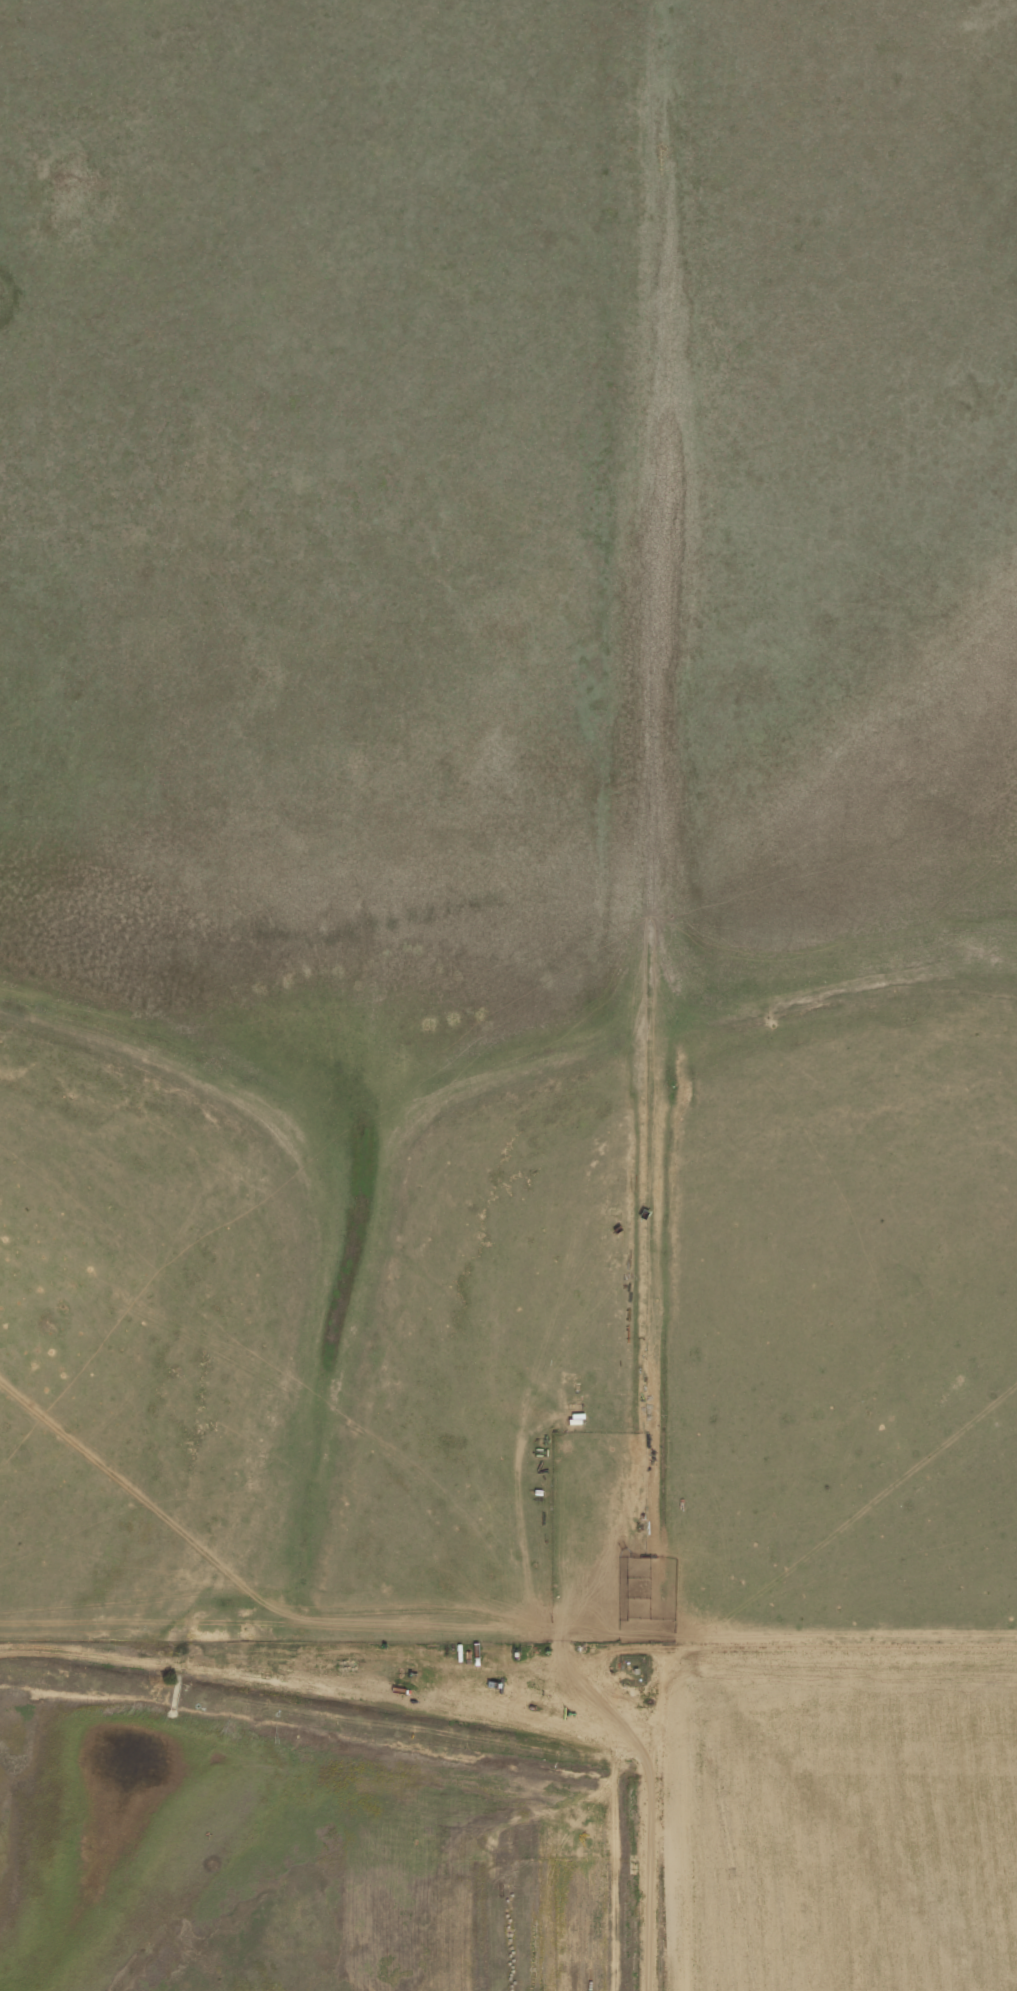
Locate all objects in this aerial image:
road: (622, 1883)

